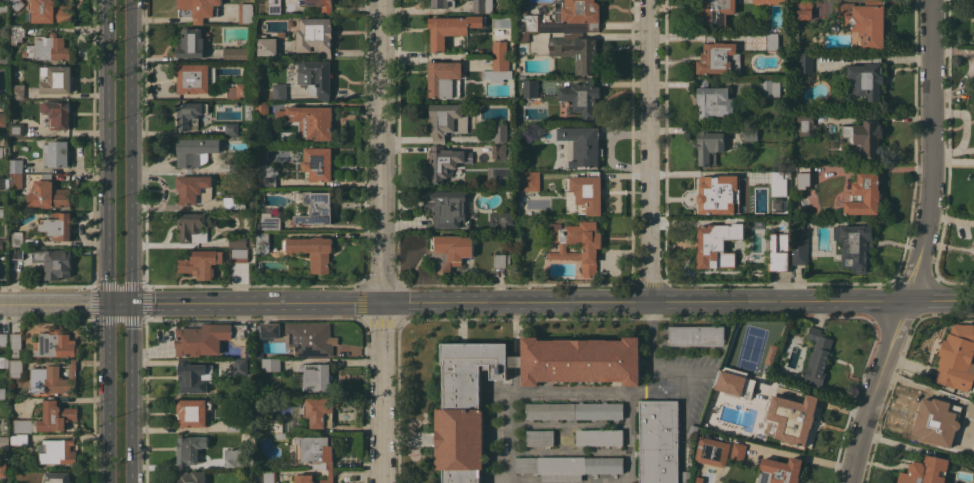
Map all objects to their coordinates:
building: (770, 1)
building: (443, 3)
building: (320, 4)
building: (483, 5)
building: (15, 6)
building: (274, 7)
building: (200, 8)
building: (4, 9)
building: (804, 9)
building: (715, 11)
building: (48, 12)
building: (578, 12)
building: (246, 13)
building: (529, 20)
building: (864, 23)
building: (451, 28)
building: (520, 28)
building: (16, 33)
building: (315, 35)
building: (523, 36)
building: (772, 41)
building: (192, 43)
building: (267, 45)
building: (47, 48)
building: (577, 51)
building: (236, 54)
building: (3, 56)
building: (718, 56)
building: (498, 63)
building: (805, 63)
road: (970, 67)
building: (192, 78)
building: (316, 78)
building: (55, 79)
building: (445, 79)
building: (866, 79)
building: (783, 81)
building: (770, 87)
building: (530, 88)
building: (237, 90)
building: (17, 91)
building: (279, 92)
building: (581, 96)
building: (713, 100)
building: (262, 106)
building: (57, 114)
building: (191, 114)
building: (1, 120)
building: (309, 120)
building: (447, 121)
building: (805, 122)
building: (231, 128)
building: (16, 129)
road: (964, 129)
building: (3, 131)
building: (500, 133)
building: (749, 134)
building: (864, 137)
building: (709, 144)
building: (580, 146)
road: (648, 150)
building: (2, 151)
road: (106, 151)
road: (129, 151)
road: (383, 151)
building: (499, 151)
road: (931, 151)
building: (195, 152)
building: (57, 154)
building: (444, 162)
building: (318, 163)
building: (15, 166)
building: (236, 167)
building: (269, 174)
building: (803, 176)
building: (15, 180)
building: (532, 180)
building: (778, 180)
building: (2, 183)
building: (194, 189)
building: (586, 192)
building: (48, 193)
building: (717, 193)
building: (865, 194)
building: (234, 202)
building: (315, 207)
building: (447, 208)
building: (2, 213)
building: (270, 218)
building: (498, 221)
building: (772, 223)
building: (57, 225)
building: (257, 226)
building: (192, 227)
building: (18, 238)
building: (237, 240)
building: (262, 242)
building: (718, 242)
building: (4, 243)
building: (799, 244)
building: (855, 245)
building: (589, 249)
building: (450, 250)
building: (312, 251)
building: (16, 253)
building: (778, 253)
building: (239, 255)
building: (501, 260)
building: (53, 262)
building: (201, 263)
building: (4, 269)
building: (14, 276)
road: (940, 300)
road: (645, 301)
road: (53, 303)
traffic signals: (107, 303)
road: (118, 303)
traffic signals: (130, 303)
road: (257, 303)
traffic signals: (385, 303)
building: (270, 330)
building: (696, 335)
building: (205, 337)
building: (310, 338)
building: (3, 339)
building: (15, 342)
building: (55, 344)
building: (771, 354)
building: (957, 357)
building: (816, 359)
building: (4, 361)
building: (271, 364)
road: (651, 365)
building: (240, 366)
building: (16, 367)
building: (194, 376)
building: (316, 377)
building: (53, 379)
building: (734, 381)
road: (875, 390)
road: (108, 392)
road: (135, 392)
road: (543, 392)
building: (2, 393)
road: (385, 393)
building: (969, 407)
building: (0, 409)
building: (574, 410)
building: (319, 411)
building: (193, 412)
building: (56, 415)
building: (798, 416)
building: (460, 419)
building: (932, 421)
building: (24, 425)
building: (233, 425)
building: (277, 425)
building: (691, 430)
building: (769, 431)
building: (539, 437)
building: (599, 437)
road: (628, 437)
building: (19, 438)
building: (658, 441)
building: (5, 442)
building: (190, 449)
building: (57, 451)
building: (315, 451)
building: (711, 451)
building: (737, 452)
building: (237, 459)
building: (567, 466)
building: (3, 469)
building: (780, 471)
building: (925, 471)
building: (685, 475)
building: (192, 476)
building: (269, 476)
building: (304, 476)
building: (58, 477)
building: (698, 479)
building: (684, 482)

